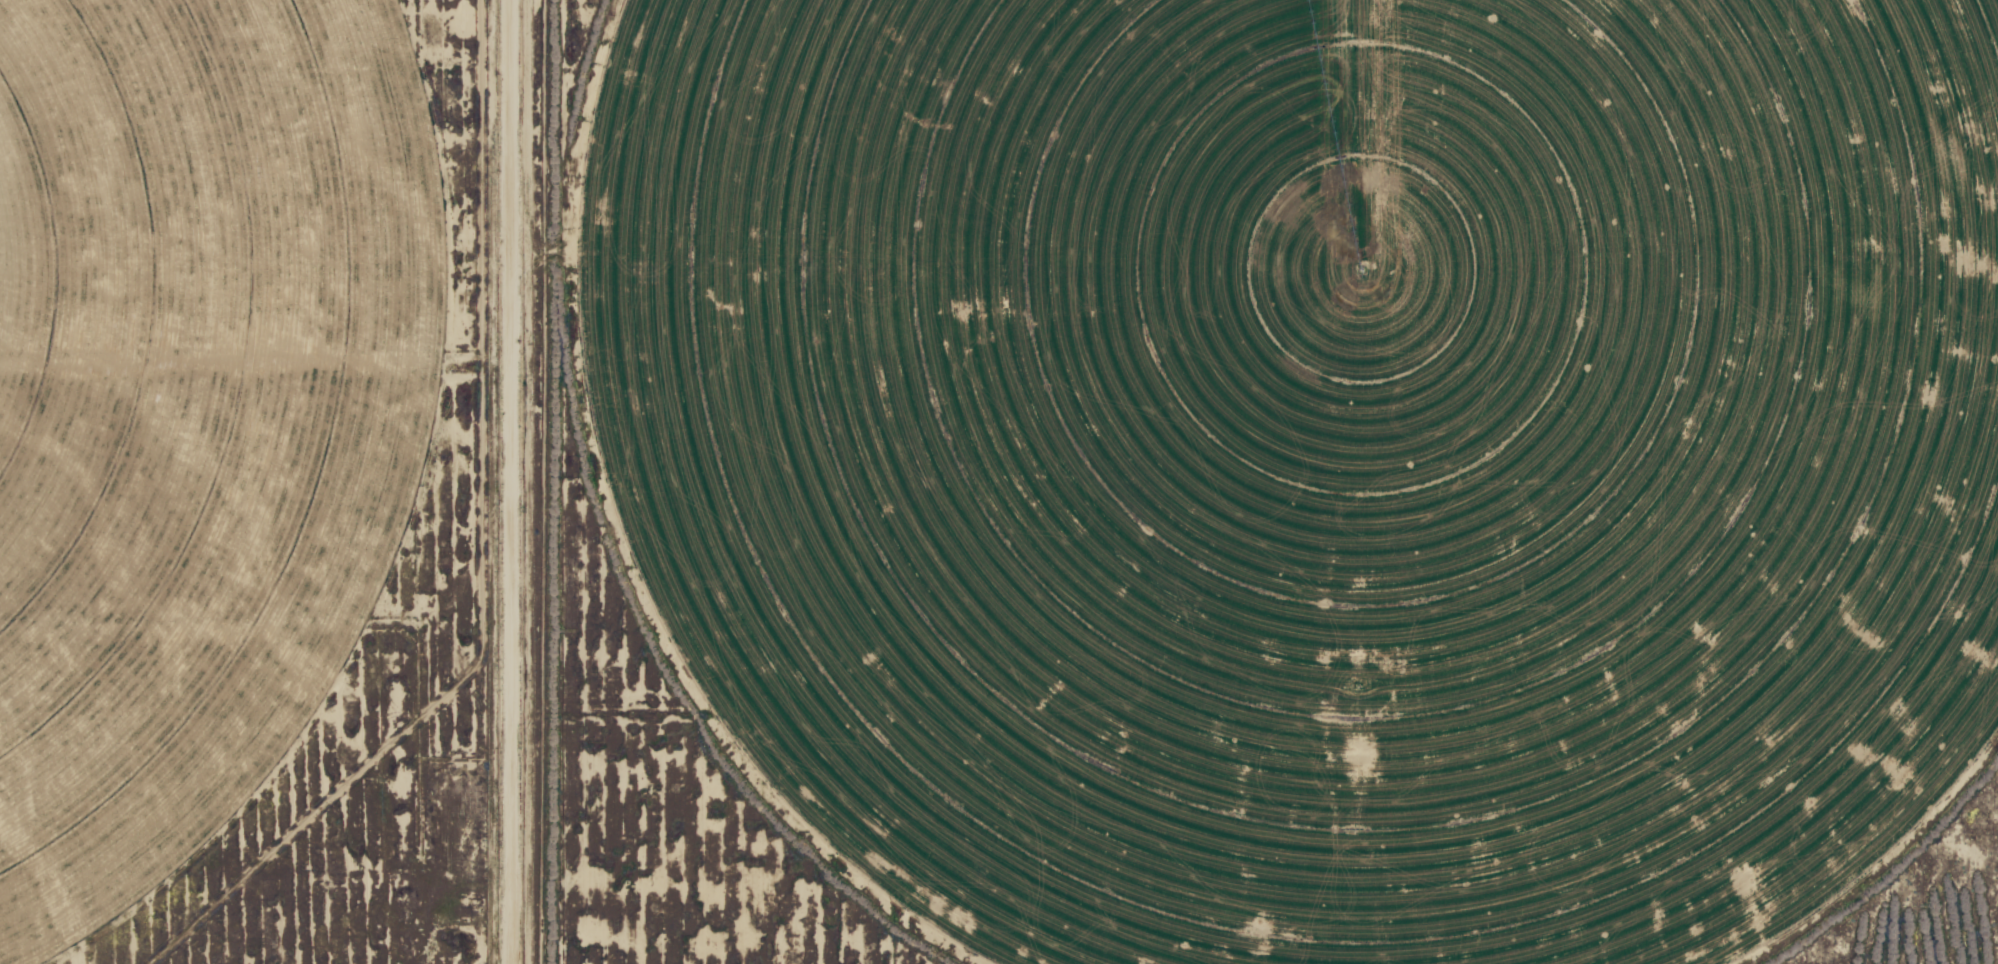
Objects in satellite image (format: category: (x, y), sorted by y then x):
crop: (189, 405)
crop: (1310, 455)
road: (485, 482)

